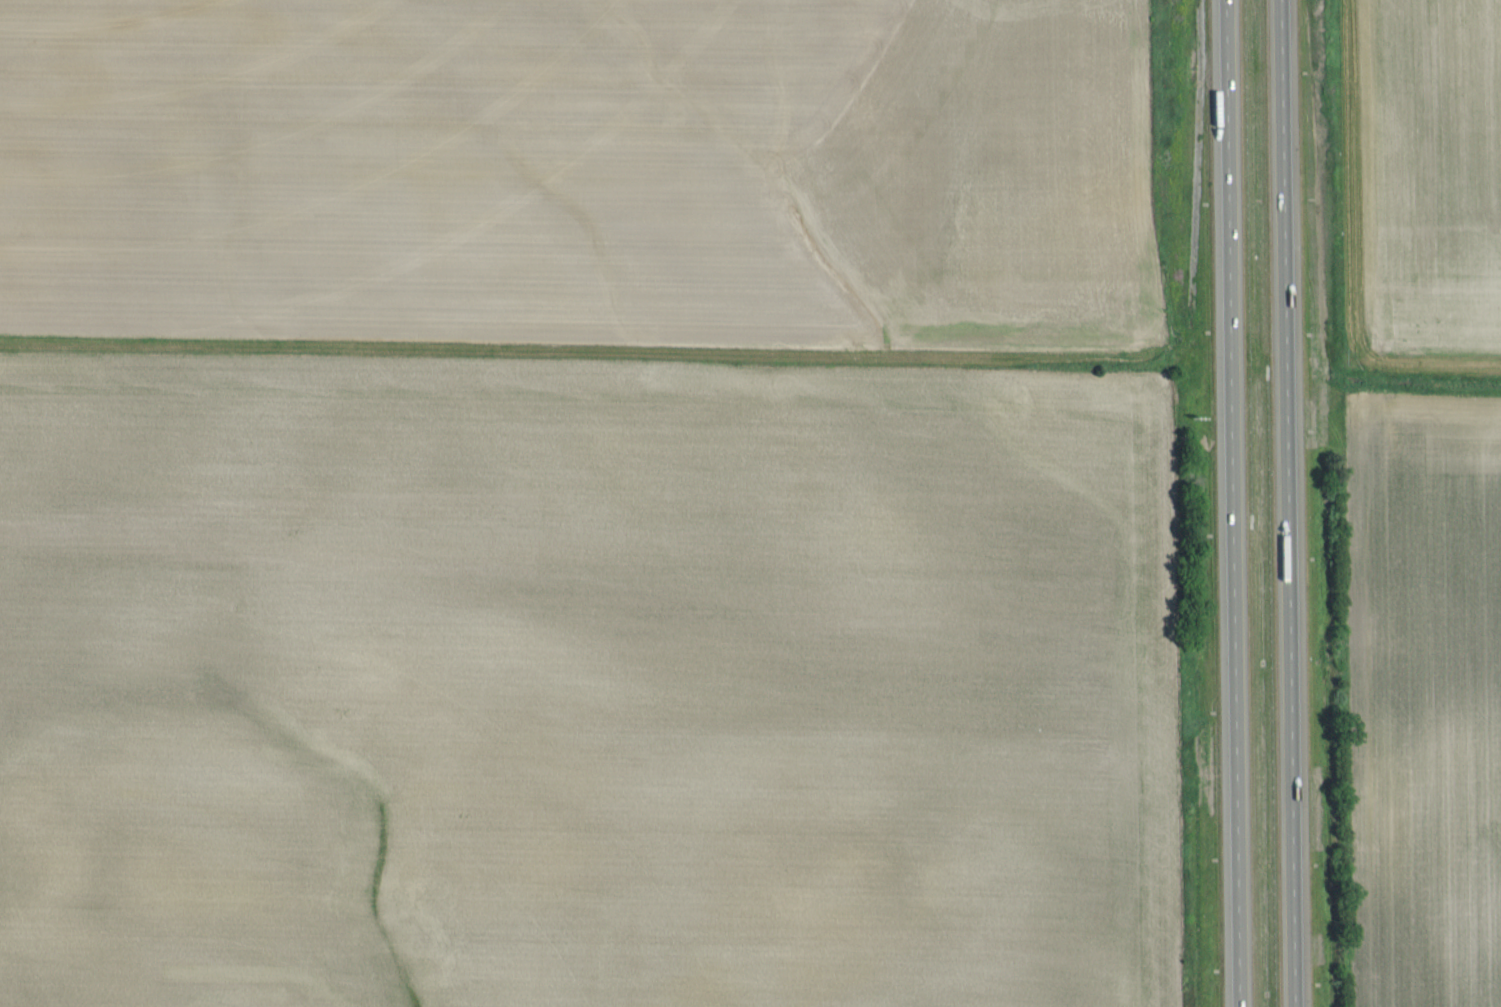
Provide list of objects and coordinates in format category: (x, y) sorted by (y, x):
road: (1230, 503)
road: (1286, 503)

